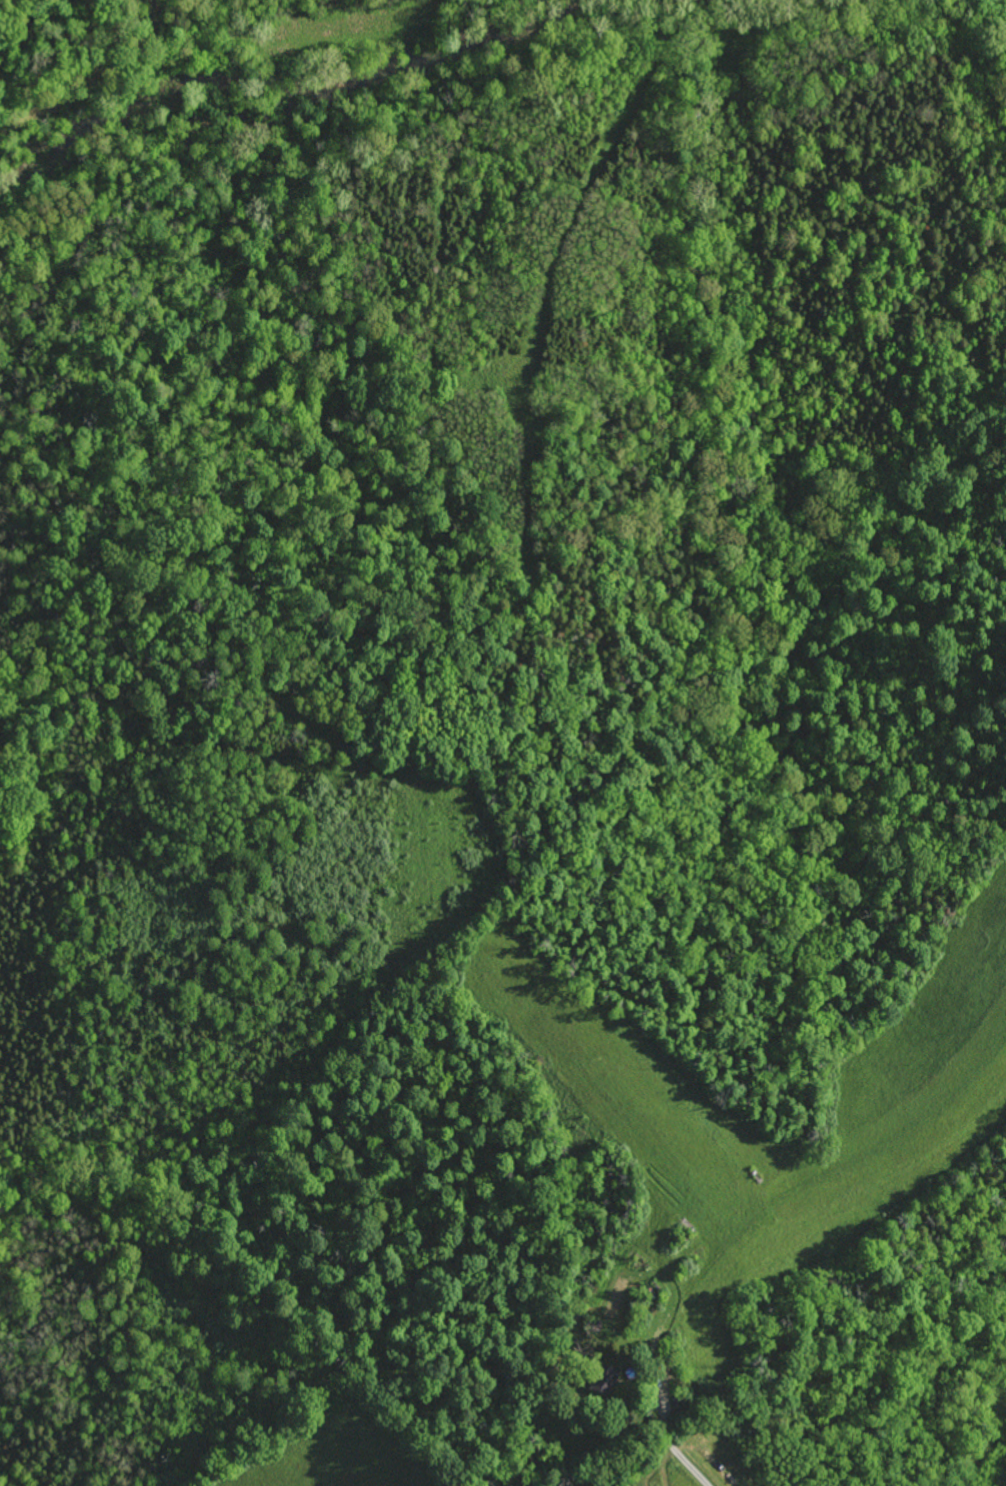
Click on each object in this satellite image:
road: (749, 1237)
building: (599, 1378)

